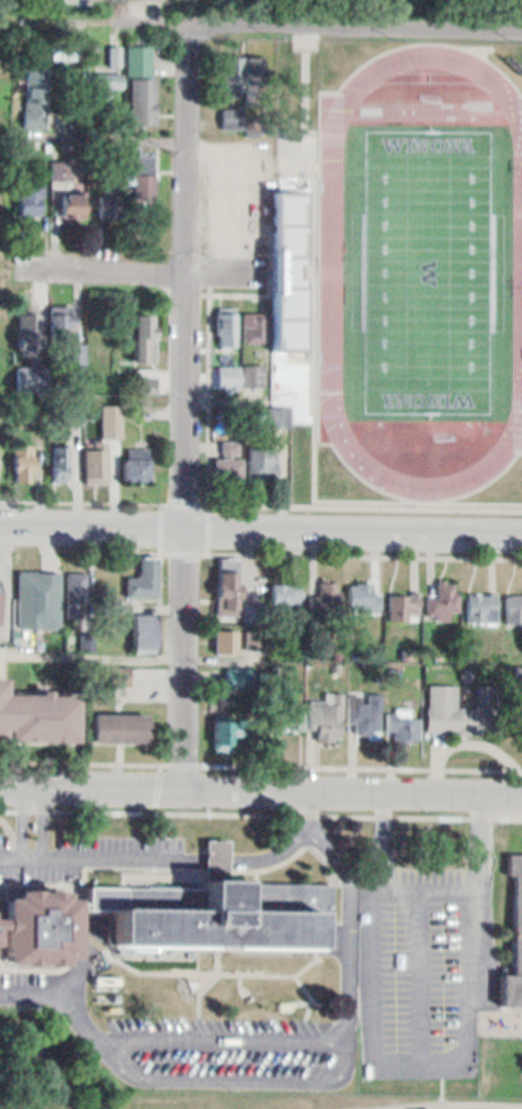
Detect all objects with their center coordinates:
park: (376, 4)
road: (139, 21)
road: (356, 25)
park: (1, 64)
building: (254, 75)
building: (231, 76)
building: (35, 88)
building: (106, 92)
building: (144, 98)
building: (231, 119)
road: (120, 143)
building: (63, 170)
building: (140, 170)
building: (31, 186)
building: (73, 199)
building: (109, 201)
road: (314, 260)
road: (324, 264)
park: (428, 266)
track: (428, 267)
road: (332, 270)
road: (104, 273)
building: (61, 314)
building: (29, 327)
building: (252, 327)
building: (227, 328)
building: (143, 329)
building: (242, 378)
building: (33, 380)
road: (188, 405)
building: (279, 416)
building: (112, 422)
building: (97, 459)
building: (138, 459)
building: (61, 460)
building: (229, 461)
building: (263, 464)
building: (25, 467)
road: (1, 468)
road: (80, 497)
road: (160, 499)
road: (365, 503)
road: (260, 534)
road: (365, 551)
building: (144, 573)
road: (8, 580)
building: (227, 585)
building: (78, 587)
building: (325, 592)
building: (37, 593)
building: (362, 593)
building: (441, 593)
building: (279, 597)
building: (401, 598)
building: (480, 601)
building: (512, 601)
building: (144, 629)
building: (226, 636)
building: (21, 676)
building: (121, 676)
building: (240, 679)
building: (445, 704)
building: (363, 705)
building: (37, 709)
building: (288, 712)
building: (325, 713)
building: (118, 720)
building: (400, 720)
building: (231, 725)
road: (78, 758)
road: (180, 759)
road: (362, 763)
road: (157, 783)
road: (93, 784)
road: (206, 785)
road: (354, 788)
road: (261, 809)
road: (33, 817)
road: (287, 841)
parking lot: (84, 850)
road: (91, 850)
road: (190, 852)
road: (213, 852)
road: (424, 885)
building: (212, 909)
building: (37, 916)
road: (351, 920)
building: (512, 927)
road: (222, 960)
road: (65, 963)
parking lot: (427, 964)
road: (213, 970)
parking lot: (24, 973)
road: (422, 973)
road: (61, 987)
road: (311, 989)
road: (202, 993)
road: (309, 1023)
road: (202, 1026)
road: (229, 1034)
parking lot: (234, 1042)
road: (422, 1062)
road: (240, 1075)
road: (441, 1082)
park: (309, 1099)
road: (434, 1102)
park: (488, 1108)

